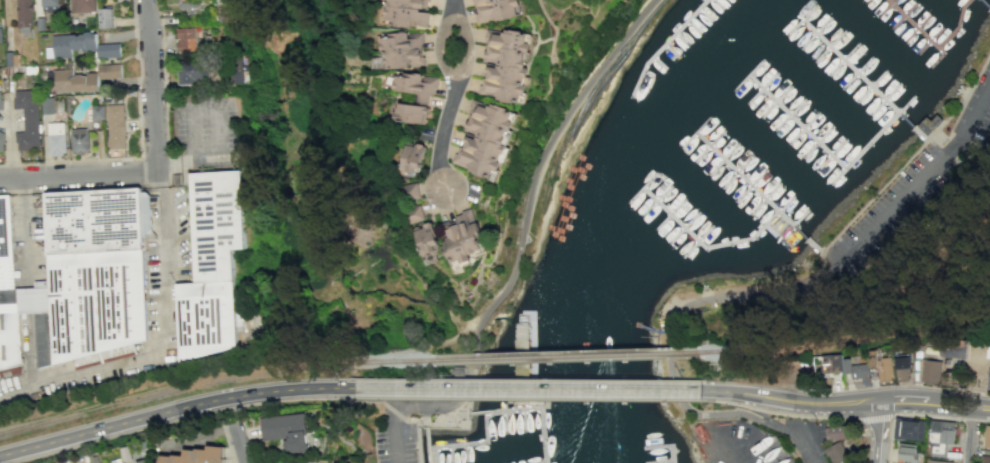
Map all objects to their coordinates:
pier: (986, 3)
building: (48, 5)
building: (189, 5)
building: (84, 6)
road: (452, 6)
building: (494, 9)
building: (407, 12)
building: (23, 13)
building: (106, 18)
building: (39, 24)
road: (554, 28)
pier: (679, 36)
building: (0, 38)
building: (186, 39)
building: (82, 46)
building: (402, 49)
pier: (938, 49)
building: (504, 65)
building: (193, 72)
building: (238, 72)
pier: (863, 74)
road: (457, 77)
building: (83, 79)
building: (415, 85)
road: (153, 86)
building: (0, 105)
building: (46, 106)
road: (192, 111)
building: (97, 113)
building: (411, 113)
building: (27, 120)
building: (115, 127)
parking lot: (214, 131)
road: (443, 135)
building: (55, 138)
building: (482, 139)
building: (1, 140)
building: (78, 141)
road: (139, 148)
pier: (824, 148)
road: (140, 157)
building: (412, 159)
road: (903, 162)
road: (539, 165)
parking lot: (921, 174)
road: (79, 177)
road: (918, 181)
road: (166, 183)
building: (412, 190)
pier: (759, 192)
building: (416, 214)
building: (462, 237)
building: (429, 241)
pier: (706, 248)
road: (163, 264)
building: (212, 264)
building: (94, 276)
road: (27, 284)
building: (7, 294)
road: (667, 332)
railway: (856, 339)
building: (955, 348)
railway: (545, 356)
building: (875, 357)
pier: (530, 359)
building: (828, 364)
building: (905, 368)
building: (886, 369)
building: (857, 370)
building: (932, 371)
park: (794, 374)
road: (83, 375)
road: (982, 382)
railway: (181, 384)
building: (989, 384)
road: (526, 389)
road: (321, 393)
road: (337, 397)
road: (443, 397)
road: (526, 398)
road: (725, 402)
road: (791, 402)
road: (937, 403)
road: (532, 407)
road: (174, 410)
road: (394, 414)
road: (927, 414)
road: (456, 415)
road: (826, 417)
road: (429, 418)
road: (765, 418)
road: (873, 418)
road: (972, 419)
road: (161, 421)
road: (986, 421)
building: (909, 429)
building: (286, 431)
road: (880, 431)
building: (838, 432)
road: (974, 435)
park: (394, 436)
road: (418, 436)
building: (941, 436)
building: (987, 438)
parking lot: (393, 439)
road: (888, 439)
road: (426, 441)
road: (468, 442)
road: (392, 444)
pier: (669, 444)
road: (228, 445)
road: (241, 445)
parking lot: (812, 445)
road: (809, 448)
building: (126, 453)
road: (430, 453)
building: (838, 453)
building: (906, 453)
building: (196, 456)
road: (418, 457)
building: (93, 459)
building: (986, 459)
building: (143, 461)
building: (301, 462)
building: (936, 462)

